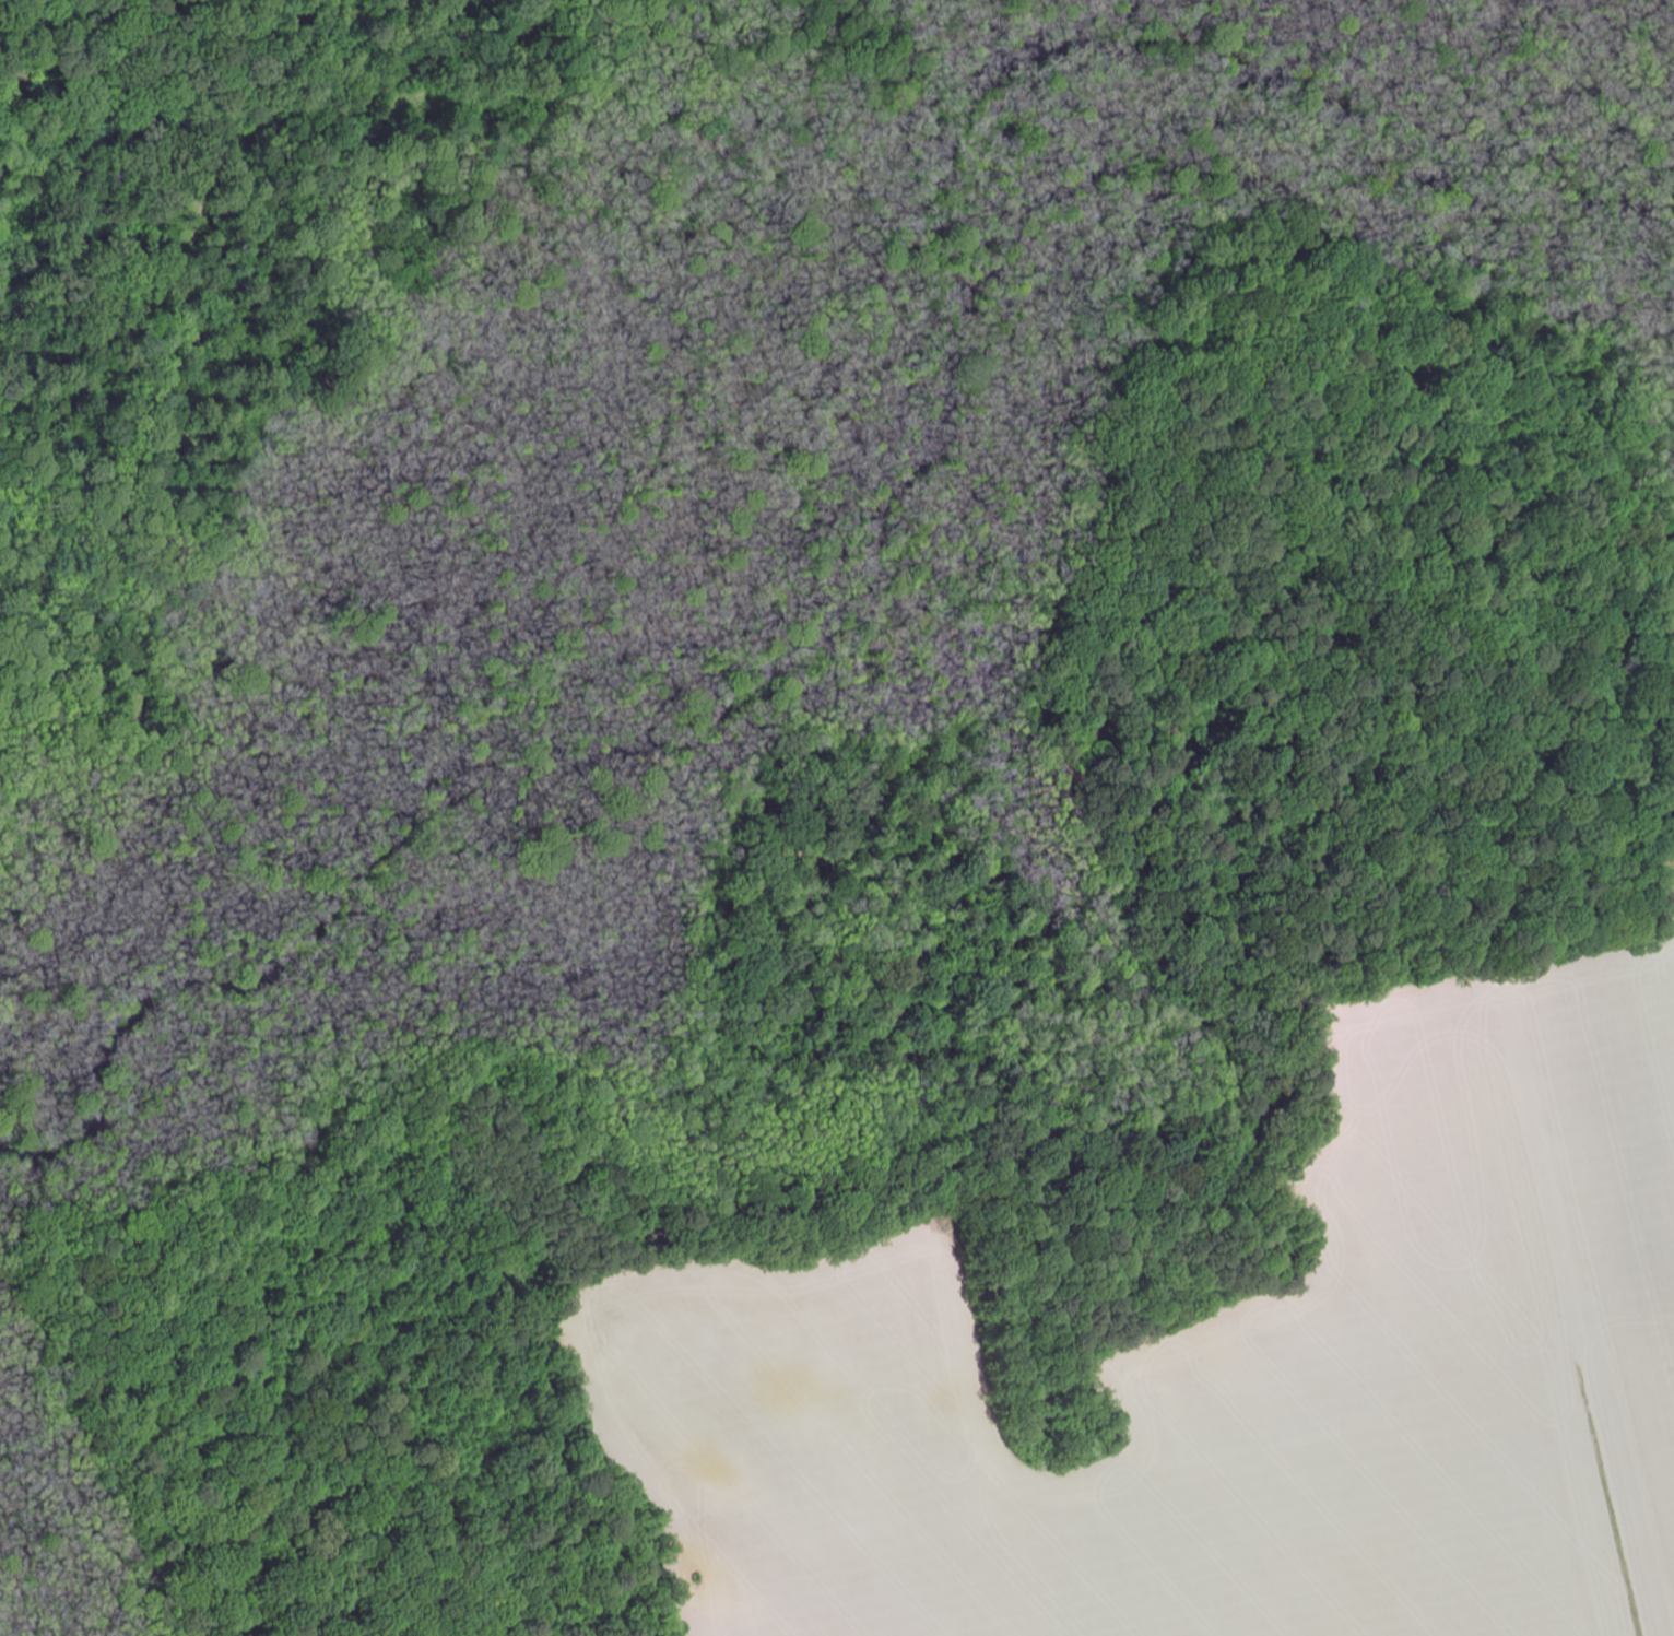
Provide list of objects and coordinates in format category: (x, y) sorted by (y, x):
park: (736, 673)

